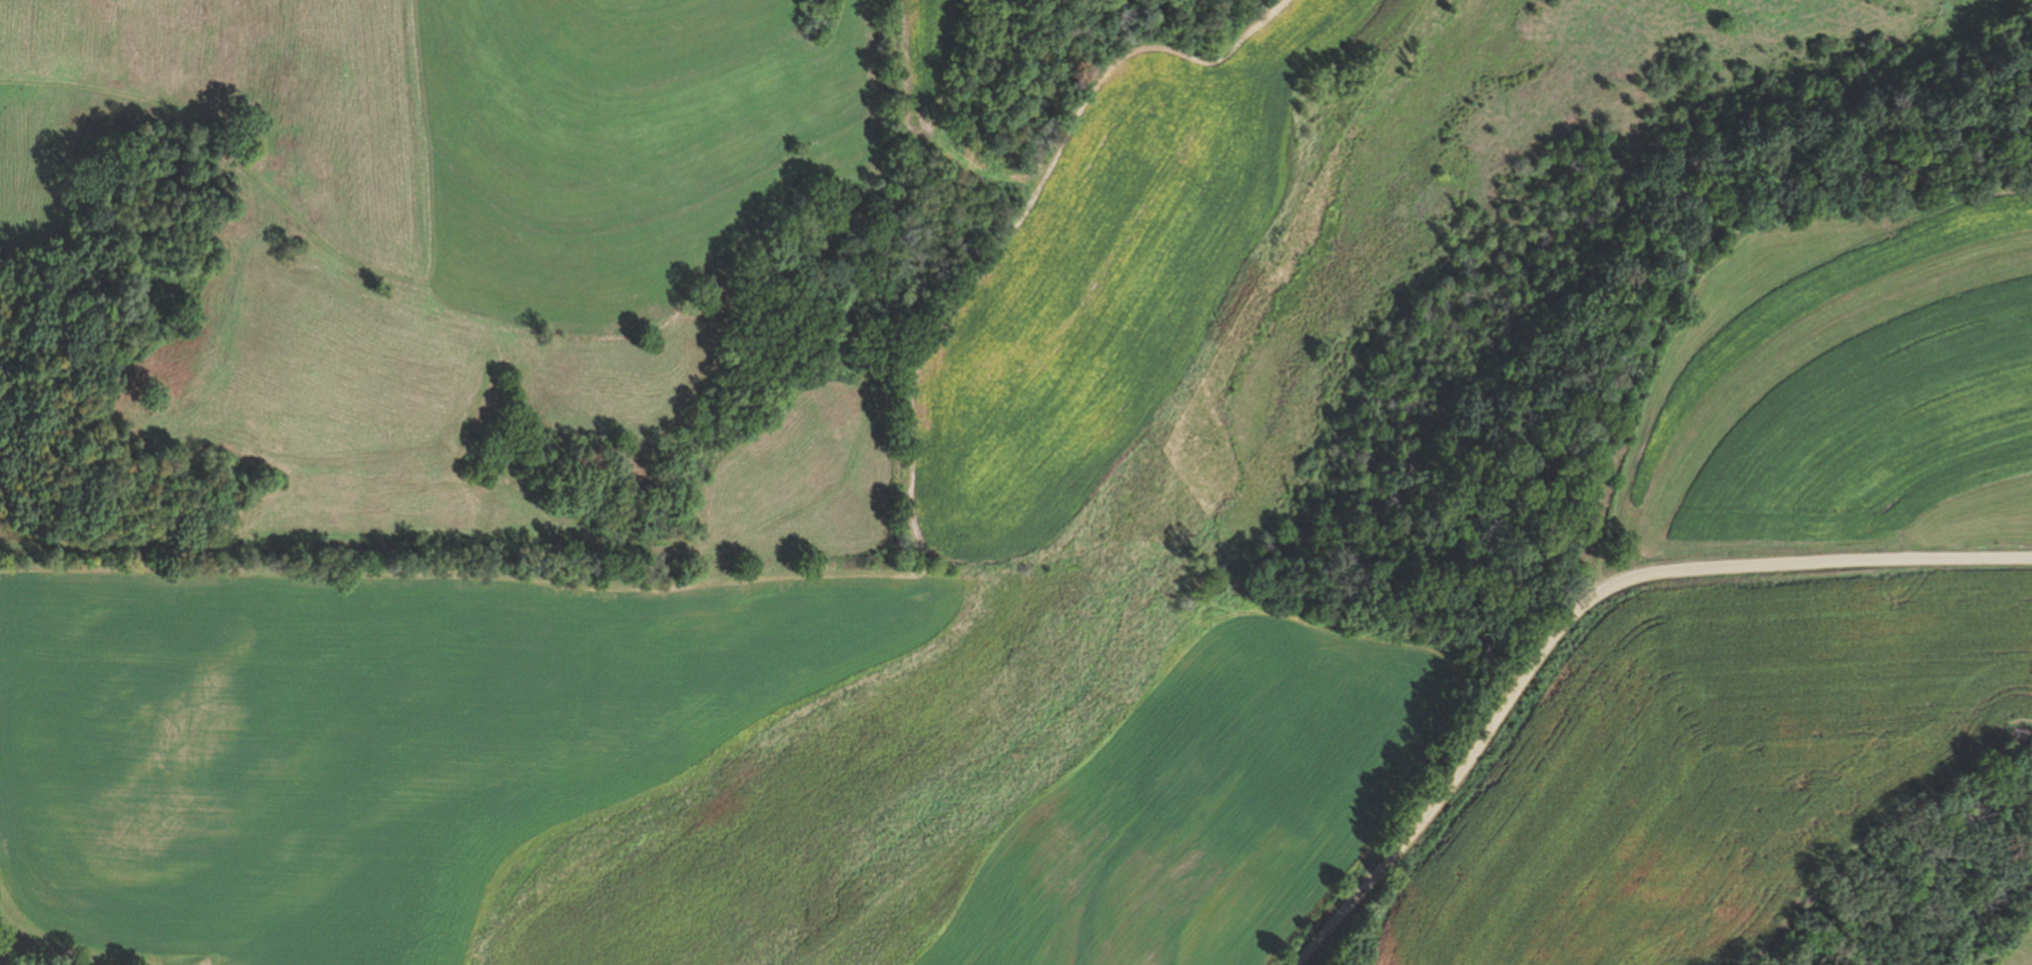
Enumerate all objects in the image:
road: (1583, 609)

